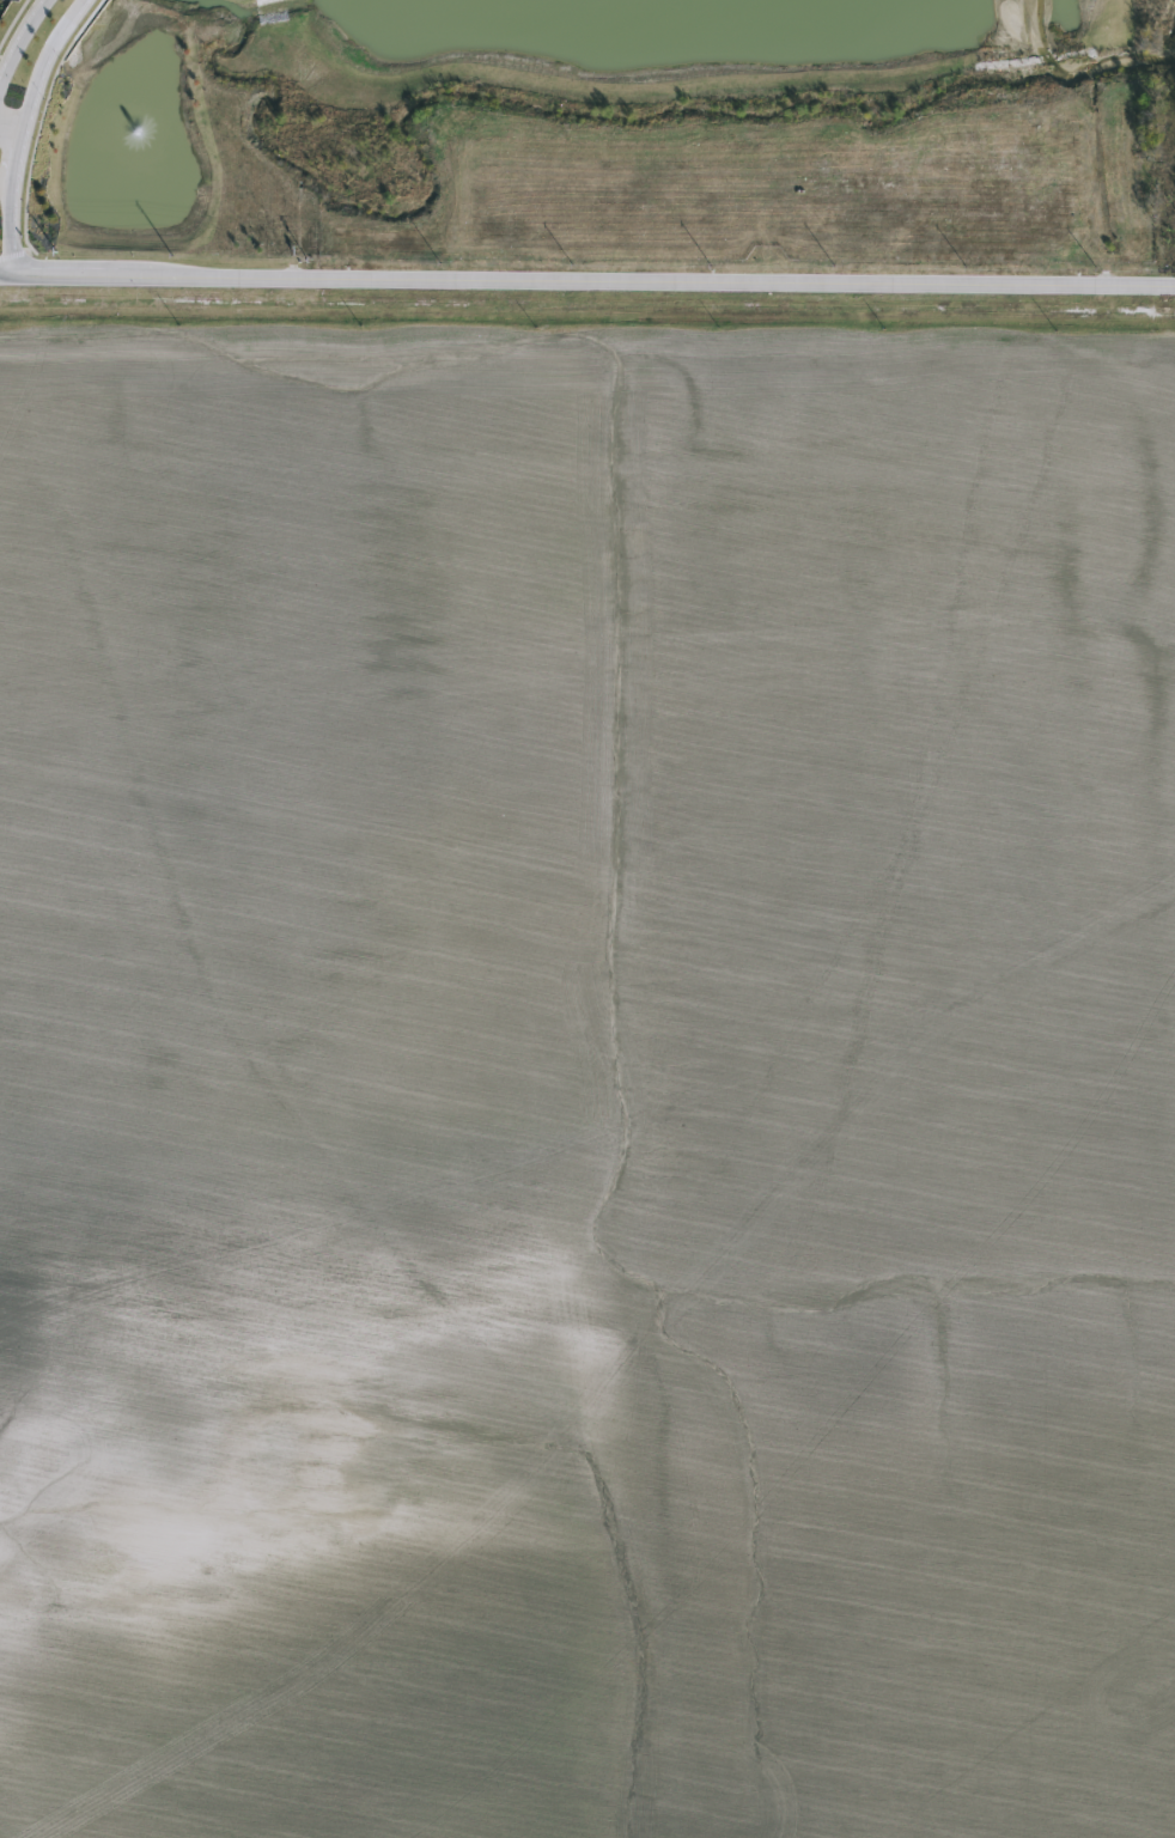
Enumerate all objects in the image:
road: (19, 32)
road: (24, 130)
road: (11, 134)
road: (587, 280)
crop: (586, 1075)

